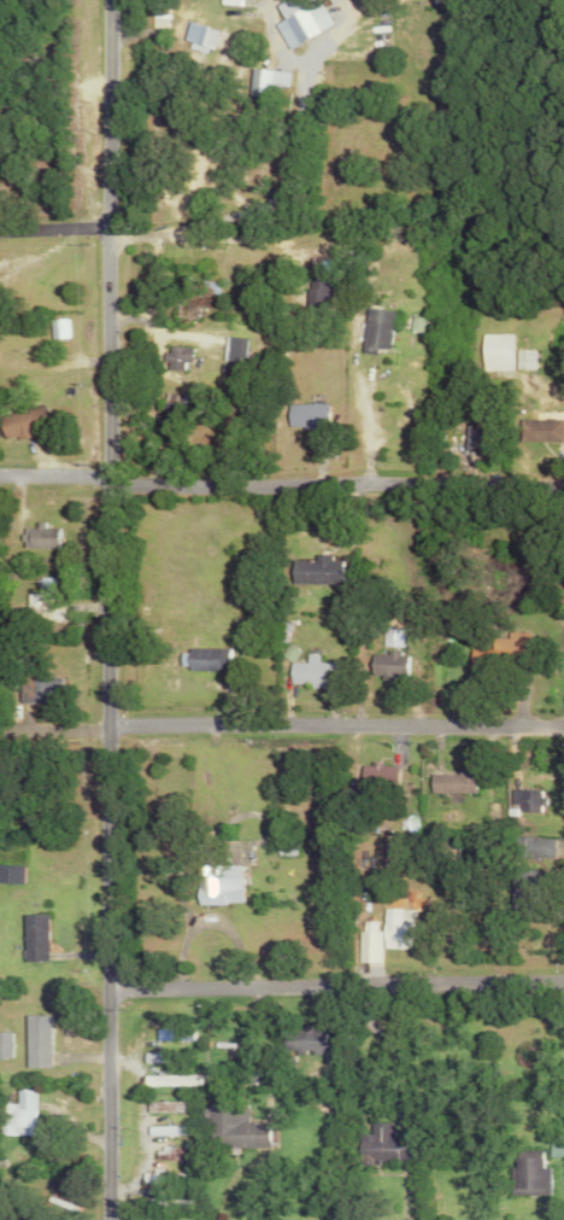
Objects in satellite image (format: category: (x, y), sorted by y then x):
building: (292, 19)
building: (199, 36)
building: (371, 43)
building: (258, 81)
road: (275, 186)
road: (49, 228)
road: (198, 234)
road: (154, 329)
building: (369, 329)
building: (229, 350)
building: (488, 351)
building: (170, 357)
building: (518, 358)
building: (301, 415)
road: (358, 416)
building: (18, 421)
building: (534, 431)
road: (458, 465)
road: (177, 478)
road: (459, 481)
building: (34, 537)
building: (311, 570)
building: (39, 601)
road: (99, 609)
building: (499, 655)
building: (201, 659)
building: (384, 665)
building: (36, 688)
road: (331, 724)
building: (376, 775)
building: (447, 782)
building: (523, 801)
road: (49, 812)
building: (529, 848)
building: (7, 874)
building: (527, 878)
building: (212, 885)
building: (382, 933)
building: (29, 936)
road: (333, 985)
building: (170, 1034)
building: (33, 1039)
building: (296, 1040)
building: (4, 1044)
building: (147, 1056)
building: (169, 1079)
building: (161, 1105)
building: (17, 1113)
building: (227, 1127)
building: (163, 1129)
building: (377, 1143)
building: (165, 1154)
building: (159, 1175)
building: (524, 1175)
building: (177, 1203)

